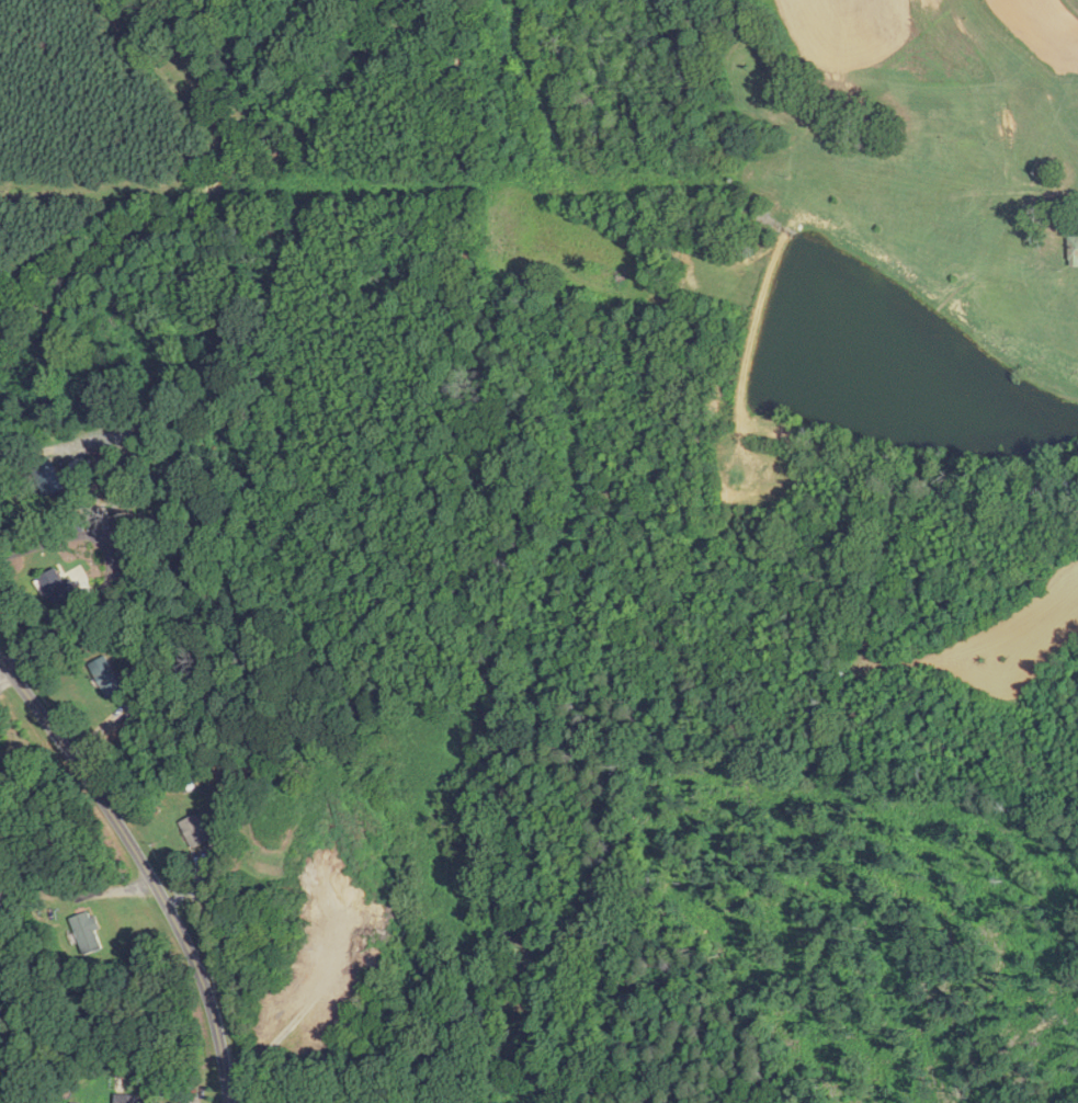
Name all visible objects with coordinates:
building: (1074, 250)
building: (83, 467)
road: (135, 469)
building: (56, 587)
building: (107, 676)
building: (195, 830)
road: (145, 865)
building: (89, 932)
building: (127, 1099)

